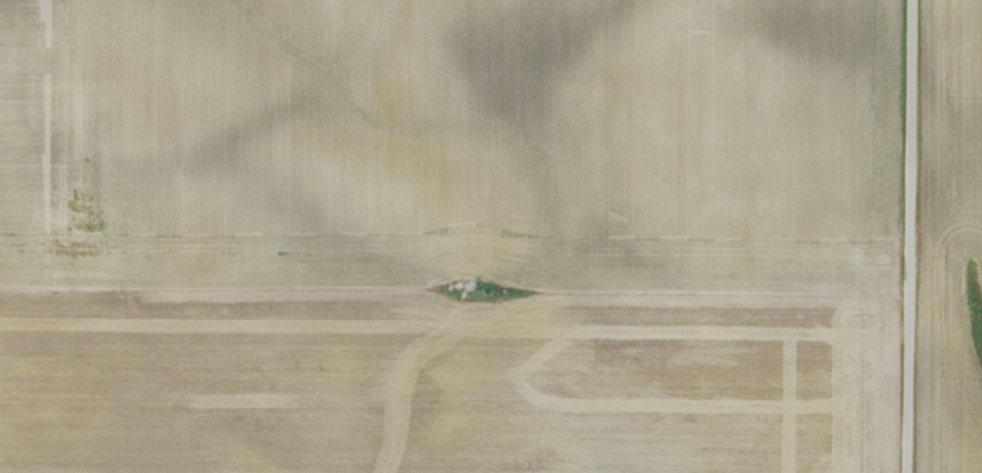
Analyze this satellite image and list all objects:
road: (907, 236)

